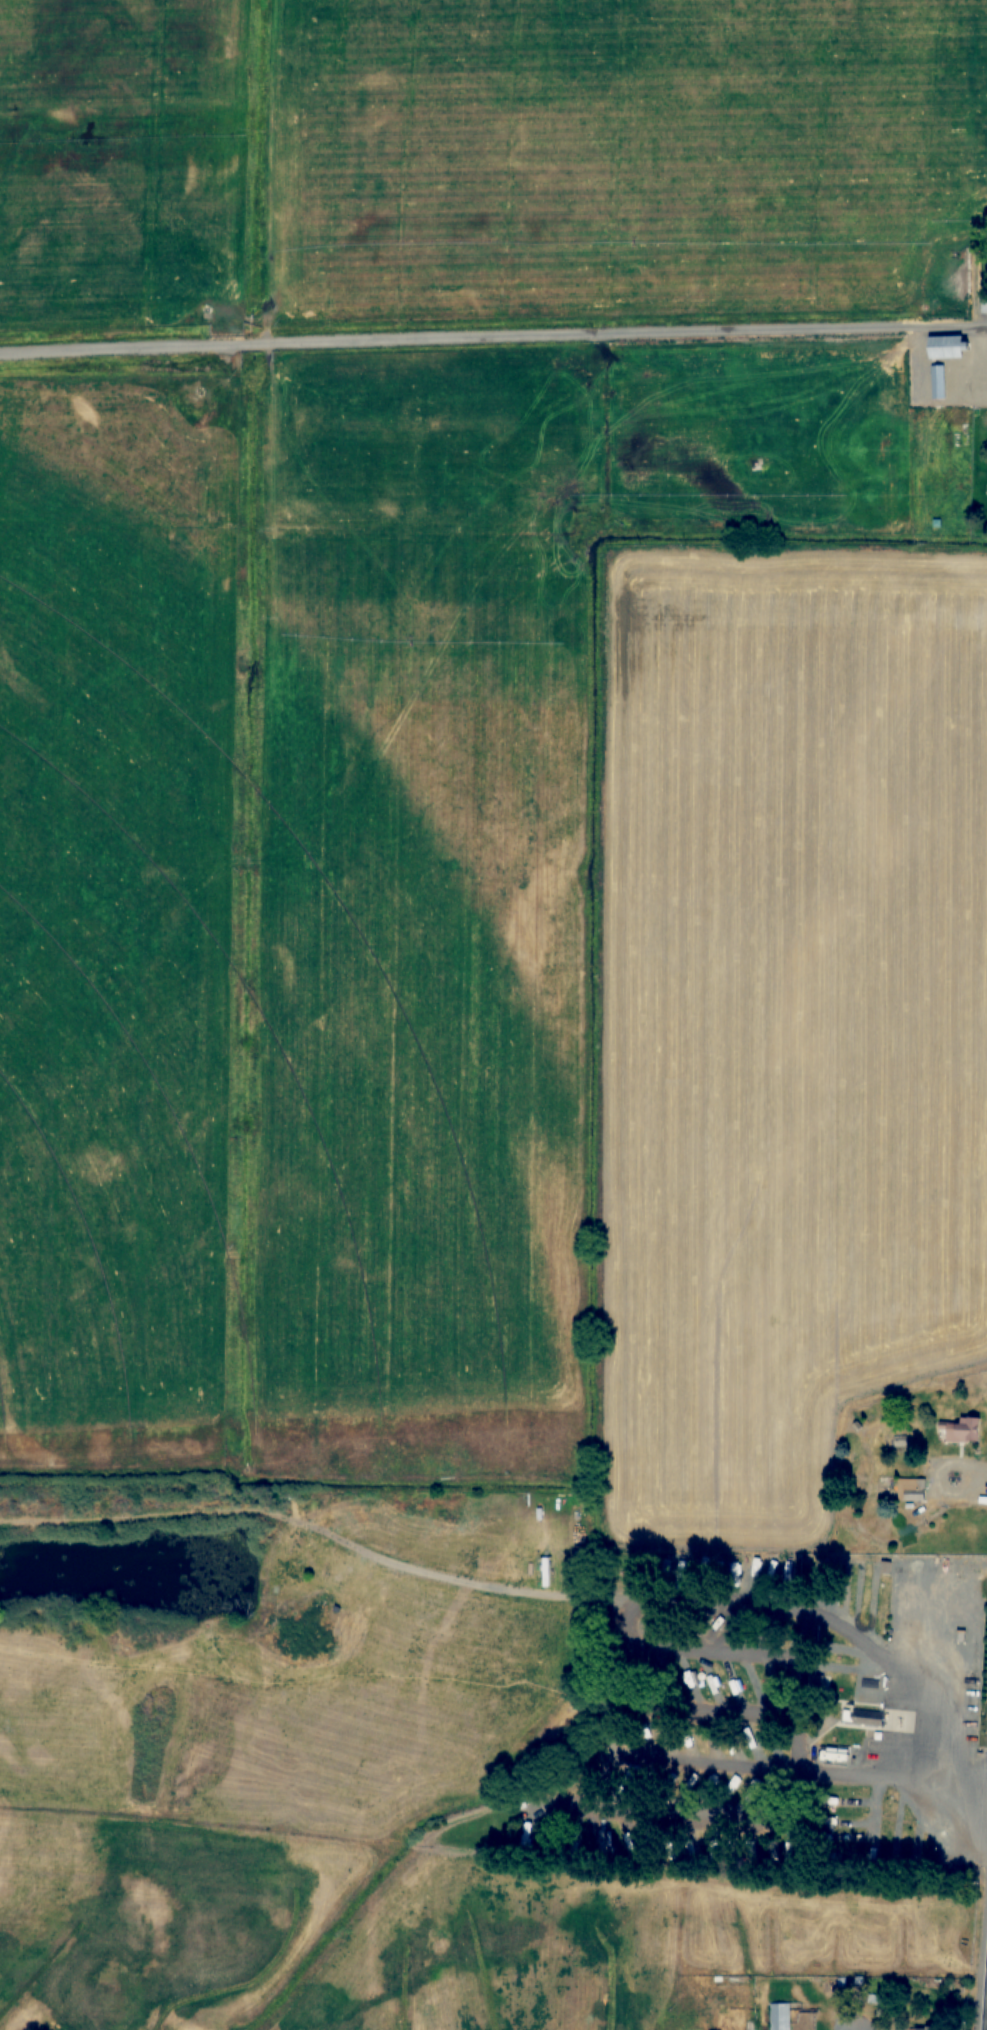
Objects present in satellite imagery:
road: (493, 336)
building: (947, 347)
building: (922, 379)
crop: (778, 1021)
building: (961, 1431)
building: (941, 1434)
building: (911, 1489)
road: (194, 1517)
building: (545, 1572)
road: (579, 1601)
road: (837, 1641)
building: (710, 1675)
road: (224, 1683)
building: (733, 1684)
building: (867, 1716)
building: (851, 1719)
building: (669, 1735)
road: (732, 1775)
building: (525, 1836)
road: (980, 1933)
building: (762, 2017)
building: (785, 2022)
building: (924, 2028)
road: (821, 2029)

